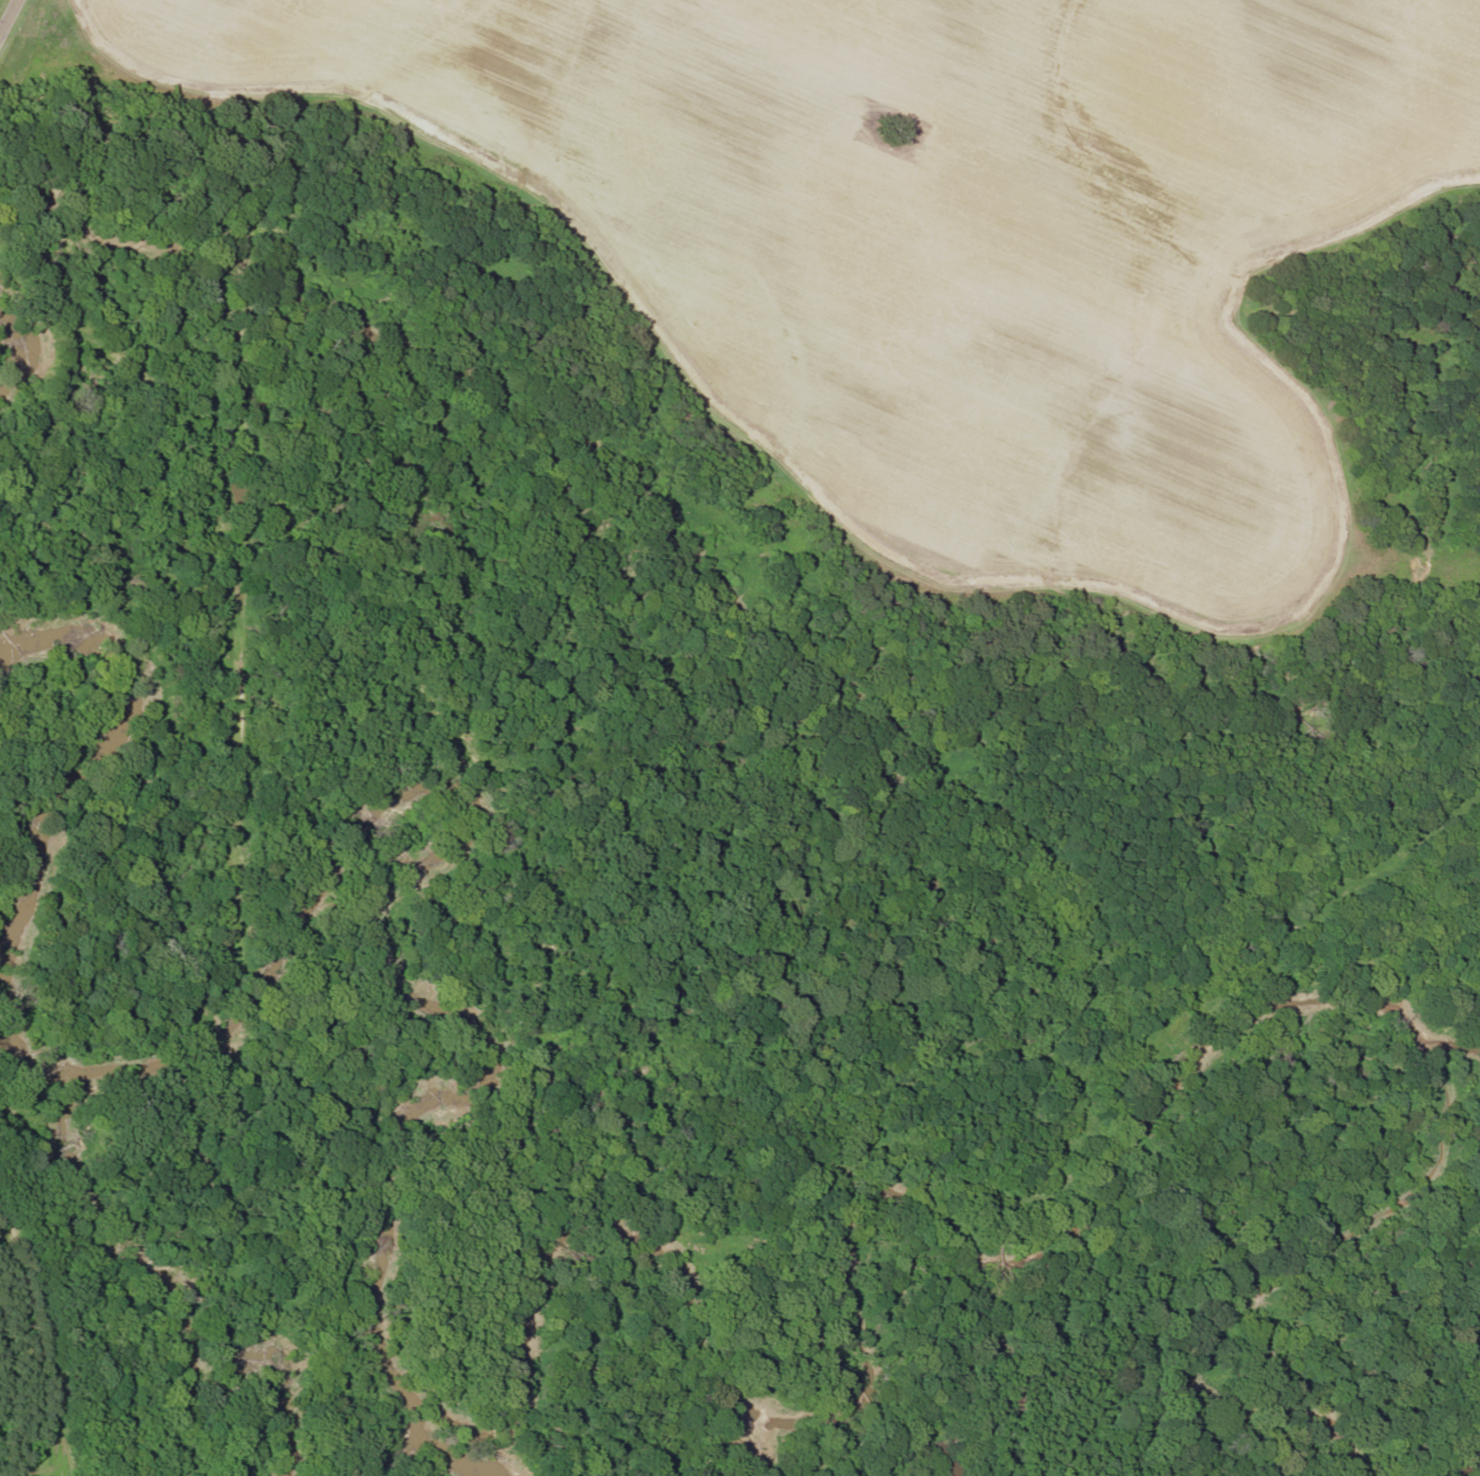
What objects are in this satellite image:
road: (10, 21)

